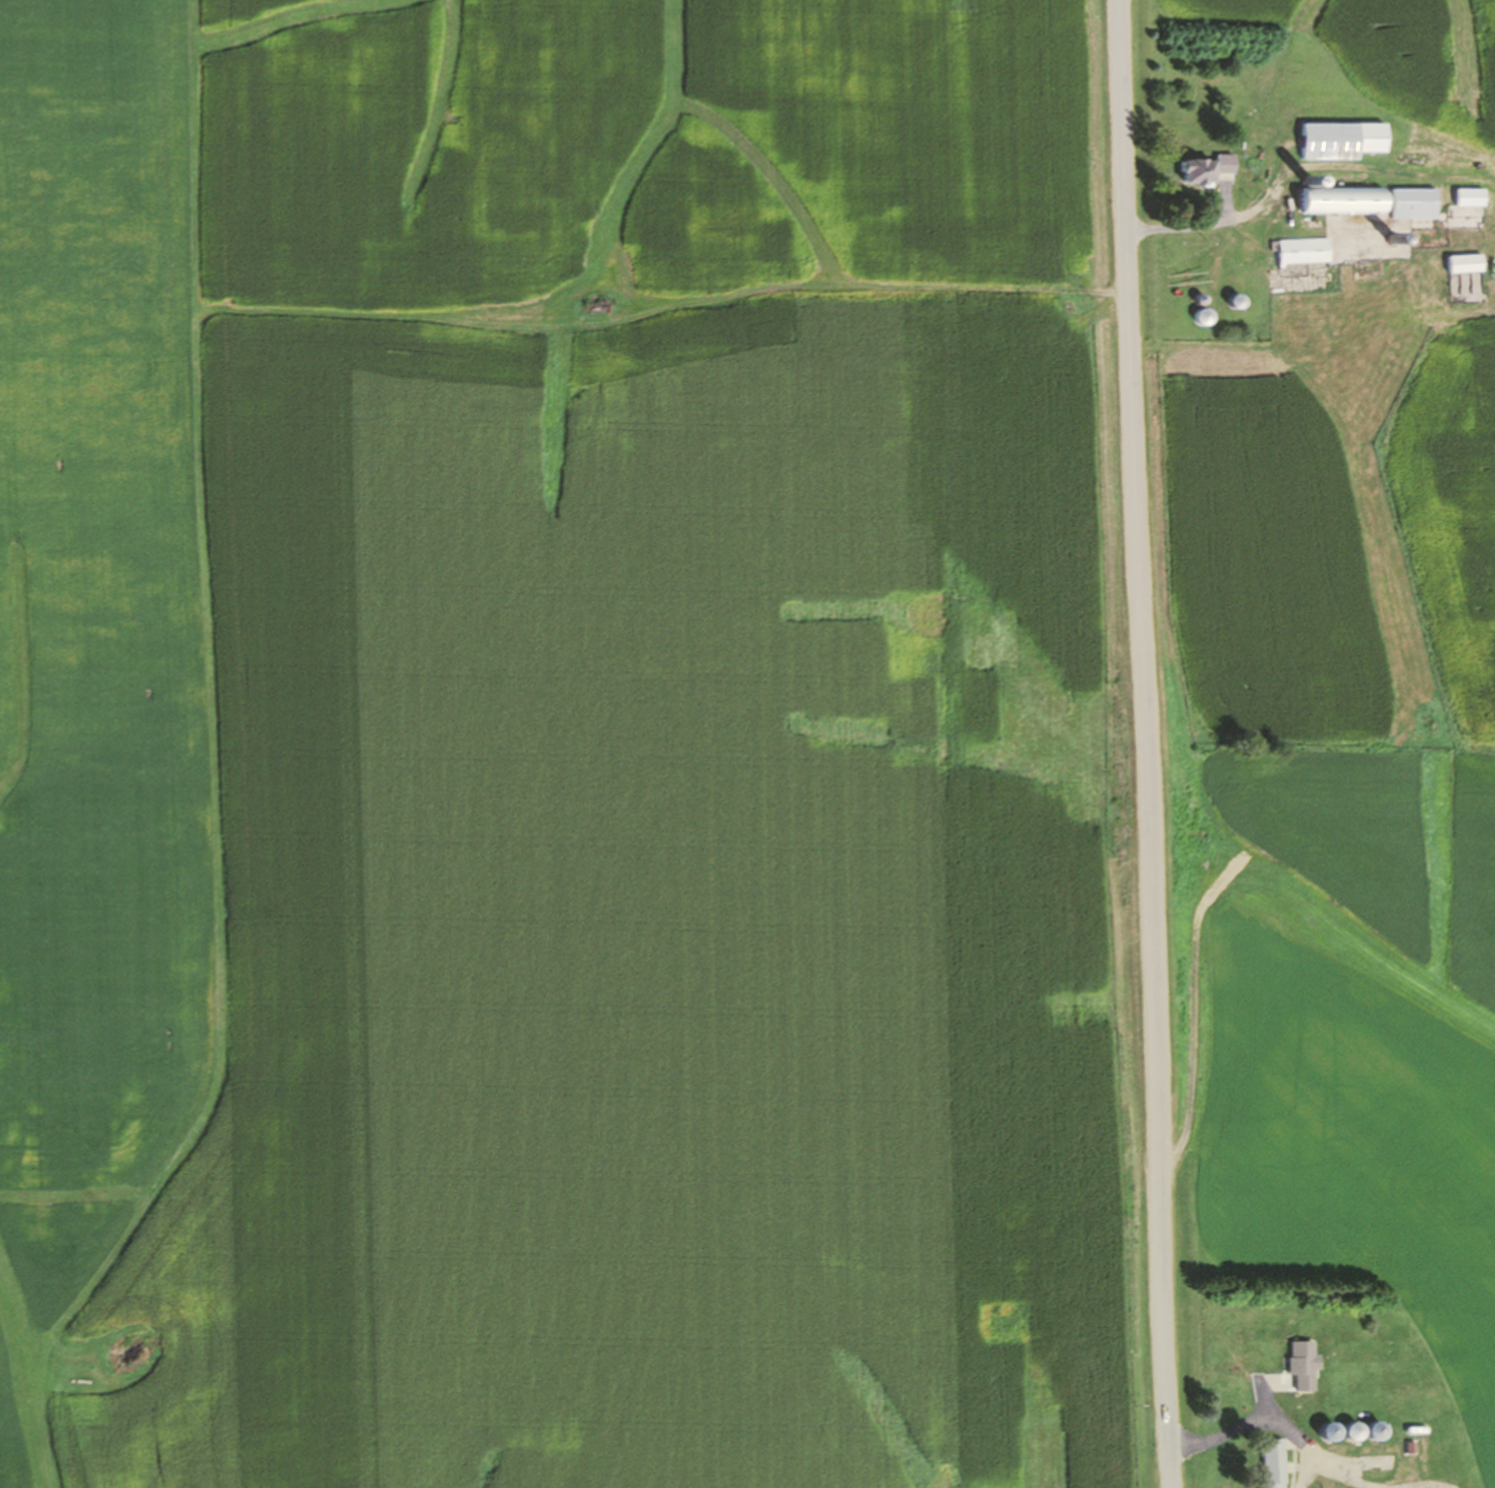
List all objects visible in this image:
road: (1145, 744)

